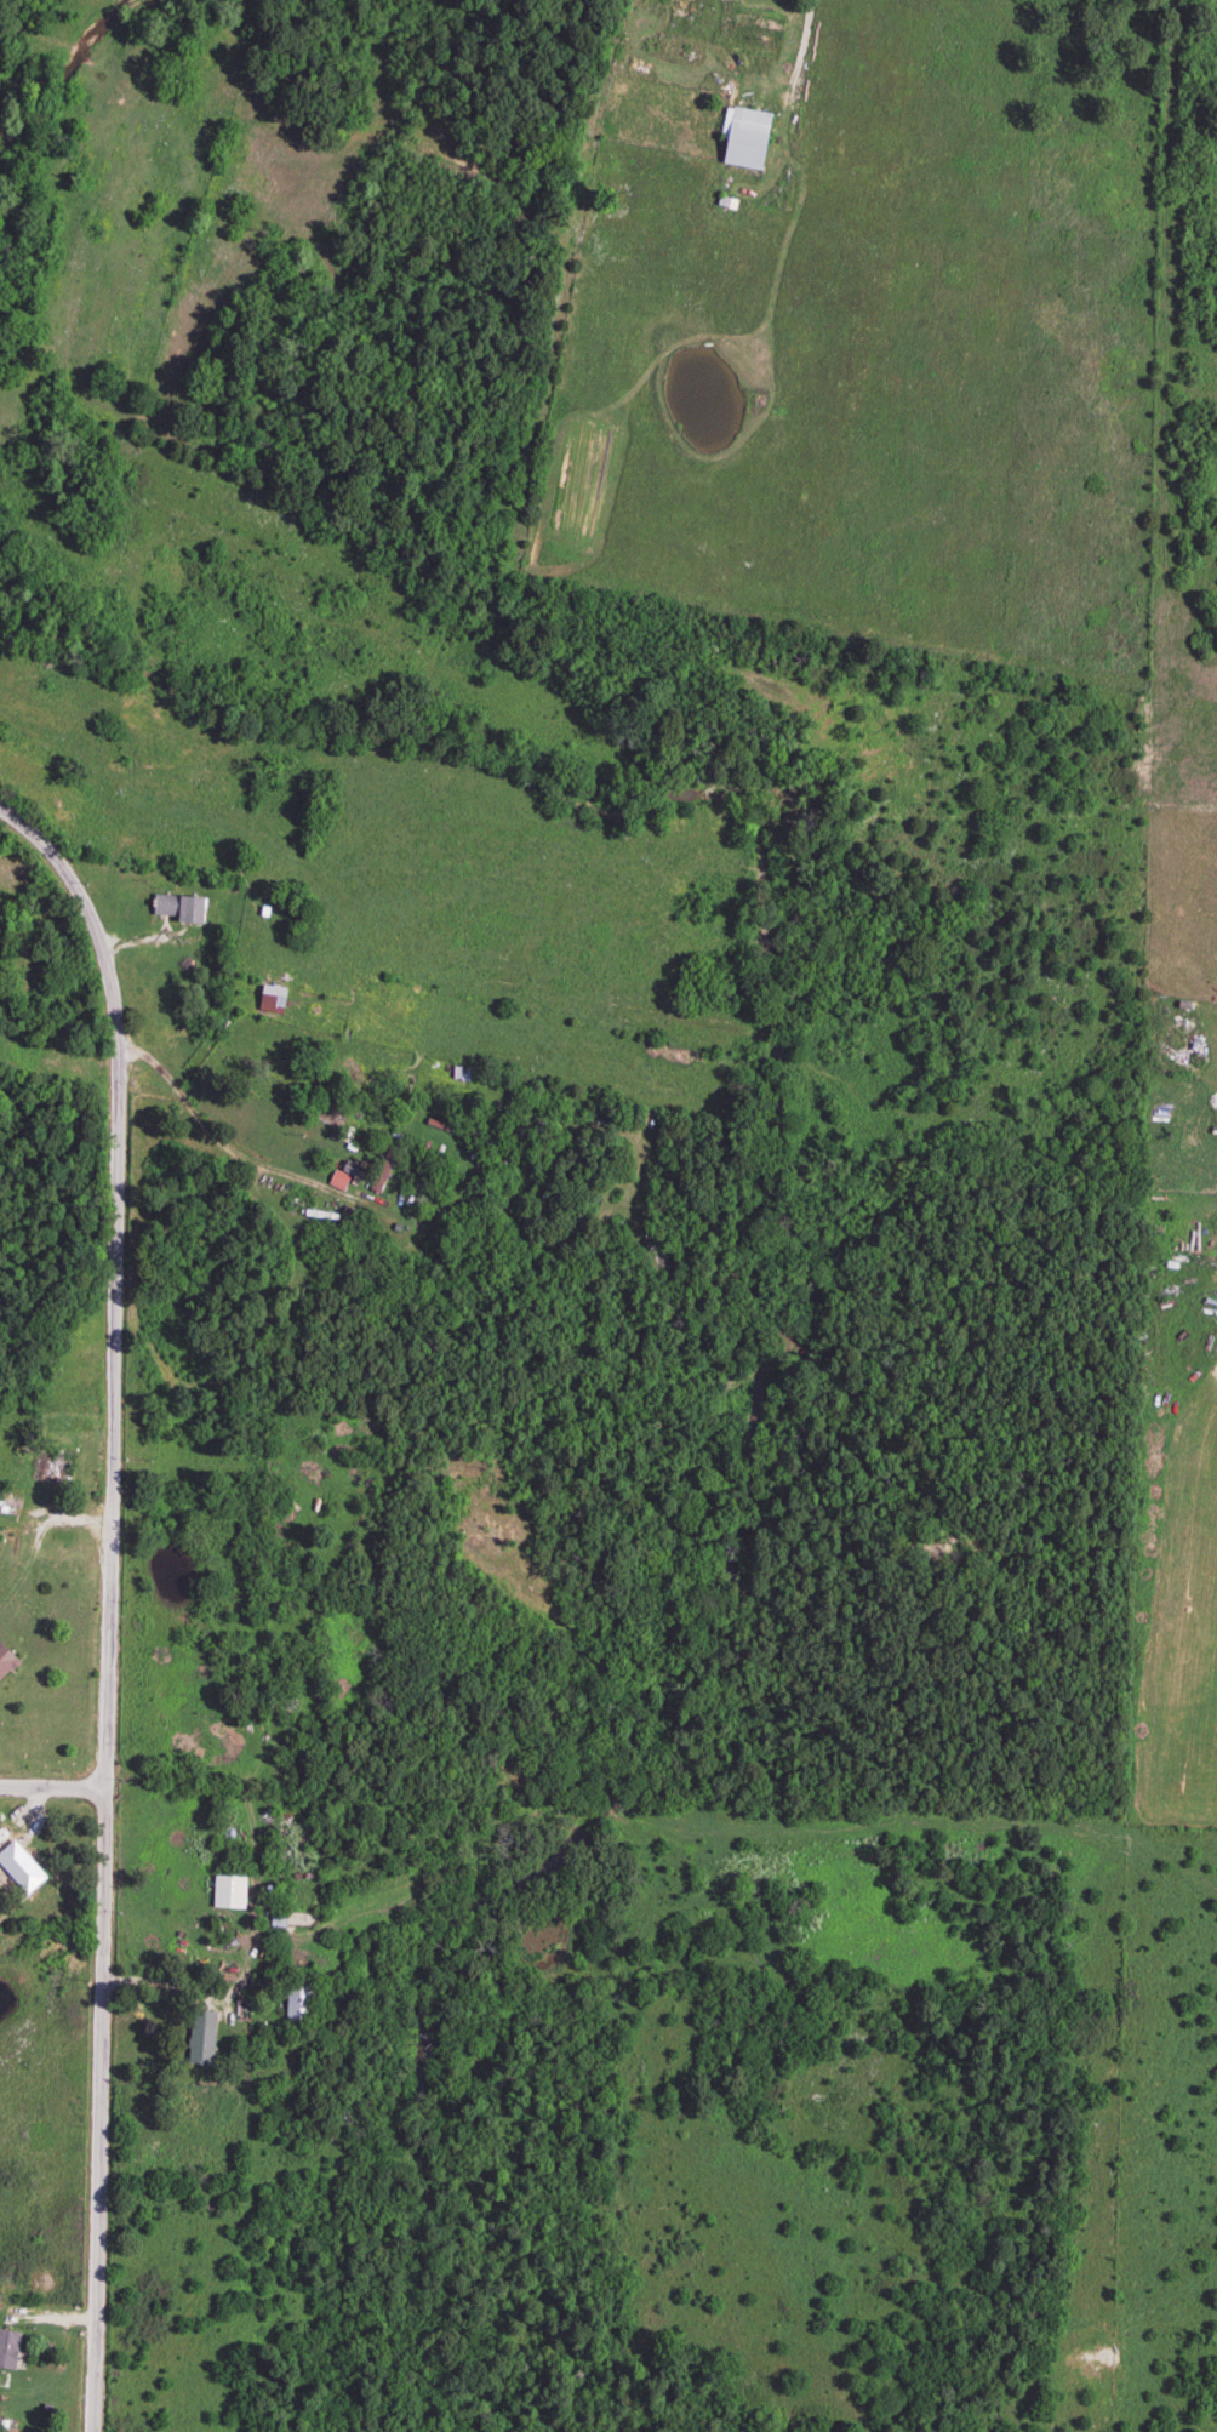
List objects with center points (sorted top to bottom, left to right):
building: (742, 138)
building: (176, 909)
building: (269, 1000)
road: (208, 1113)
building: (48, 1469)
road: (113, 1597)
building: (5, 1662)
road: (53, 1787)
building: (18, 1868)
building: (274, 1919)
building: (198, 2039)
building: (7, 2350)

